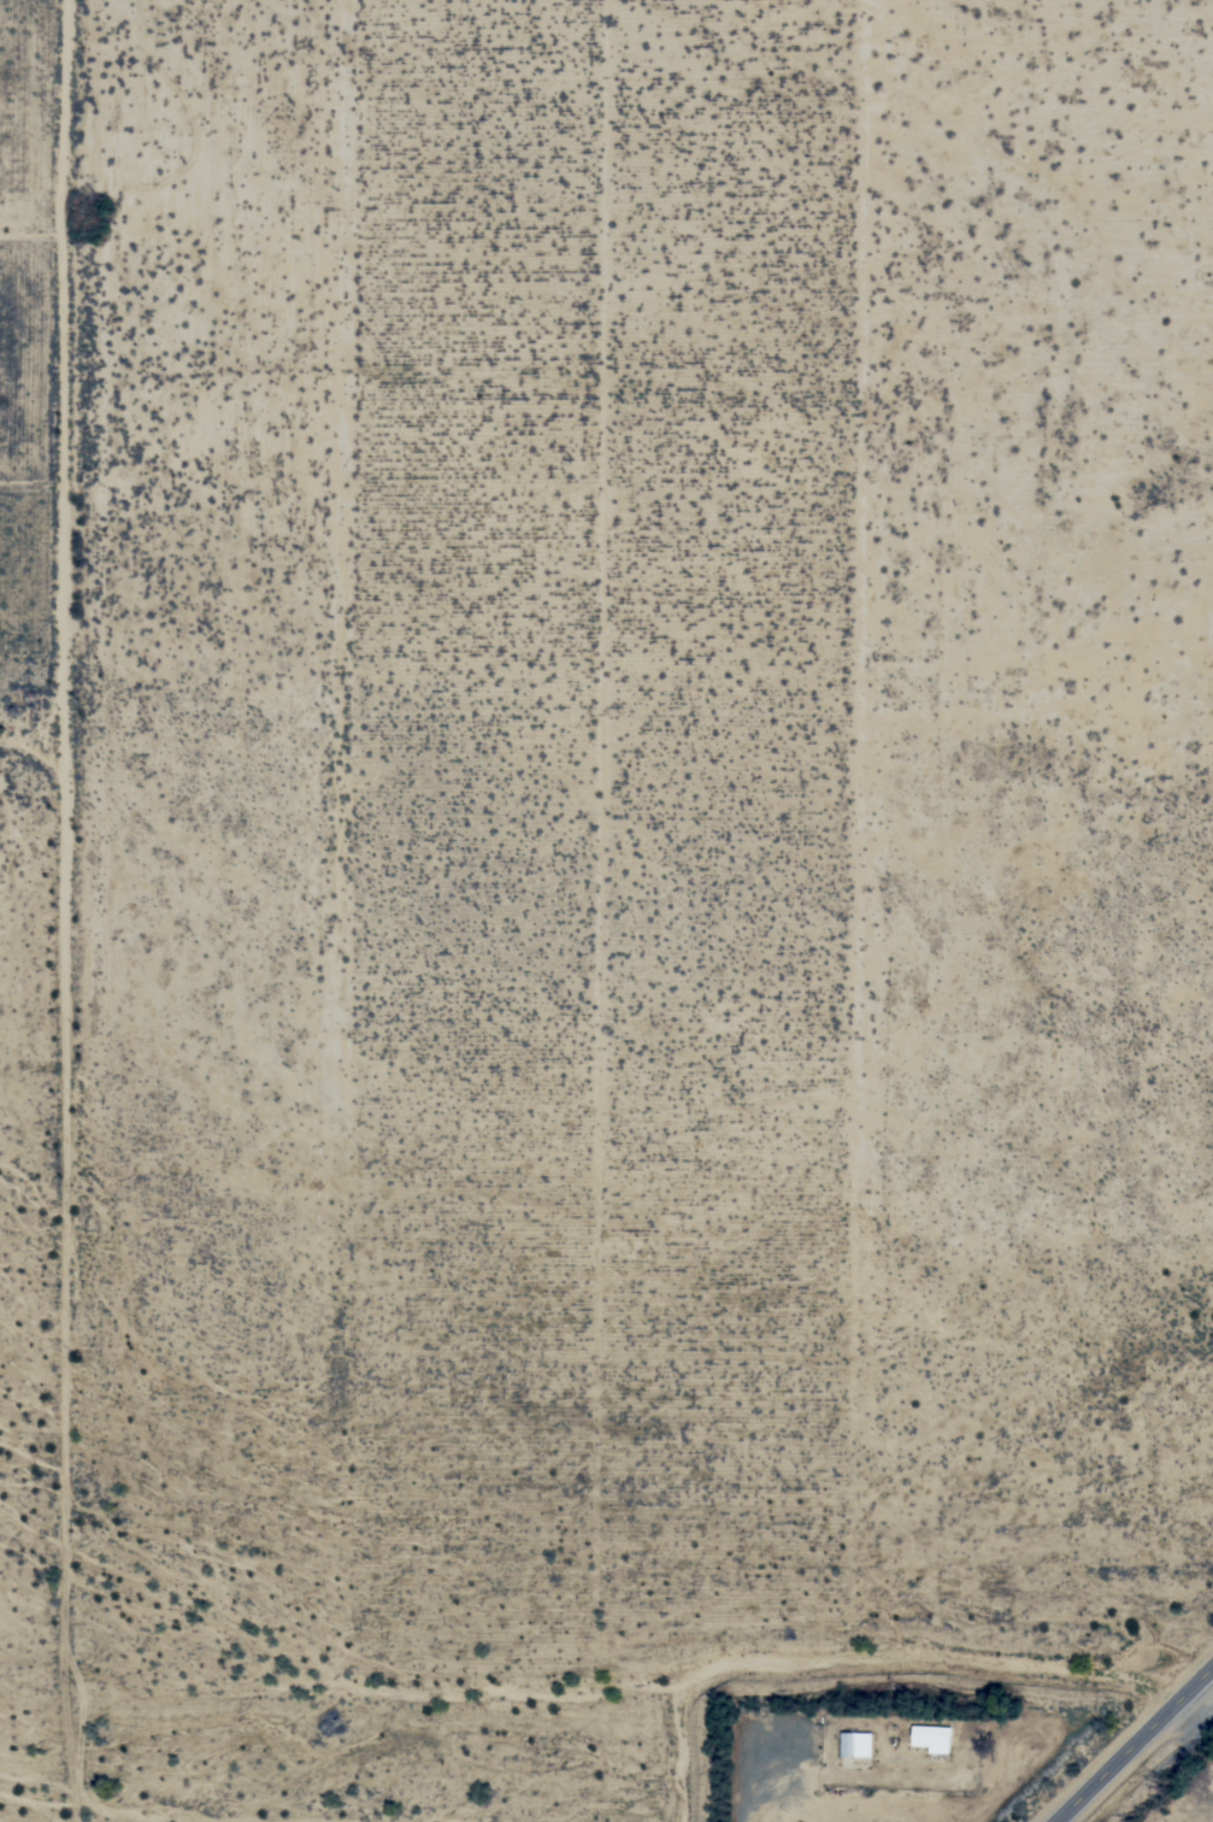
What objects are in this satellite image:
road: (69, 911)
building: (931, 1738)
road: (1130, 1739)
building: (855, 1744)

